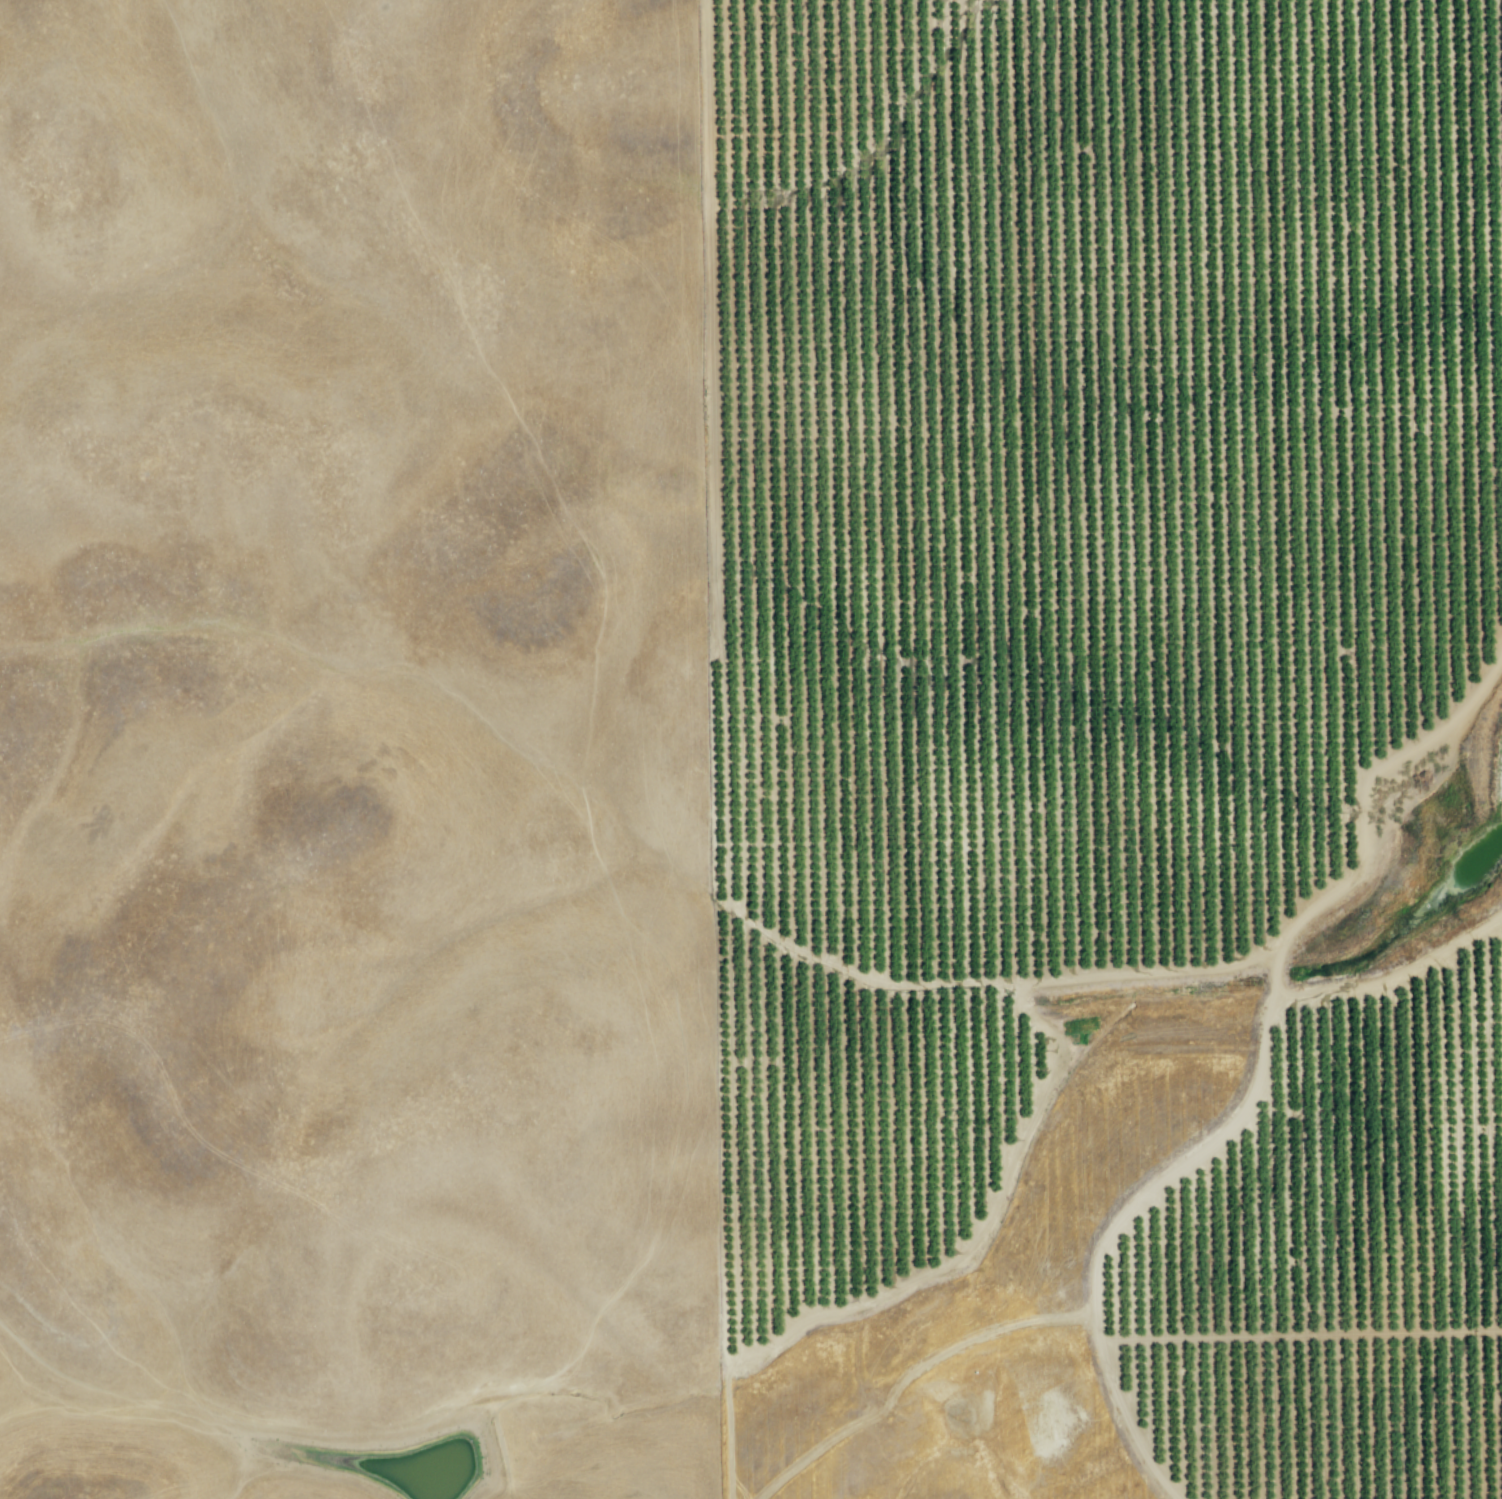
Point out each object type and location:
crop: (1109, 1166)

